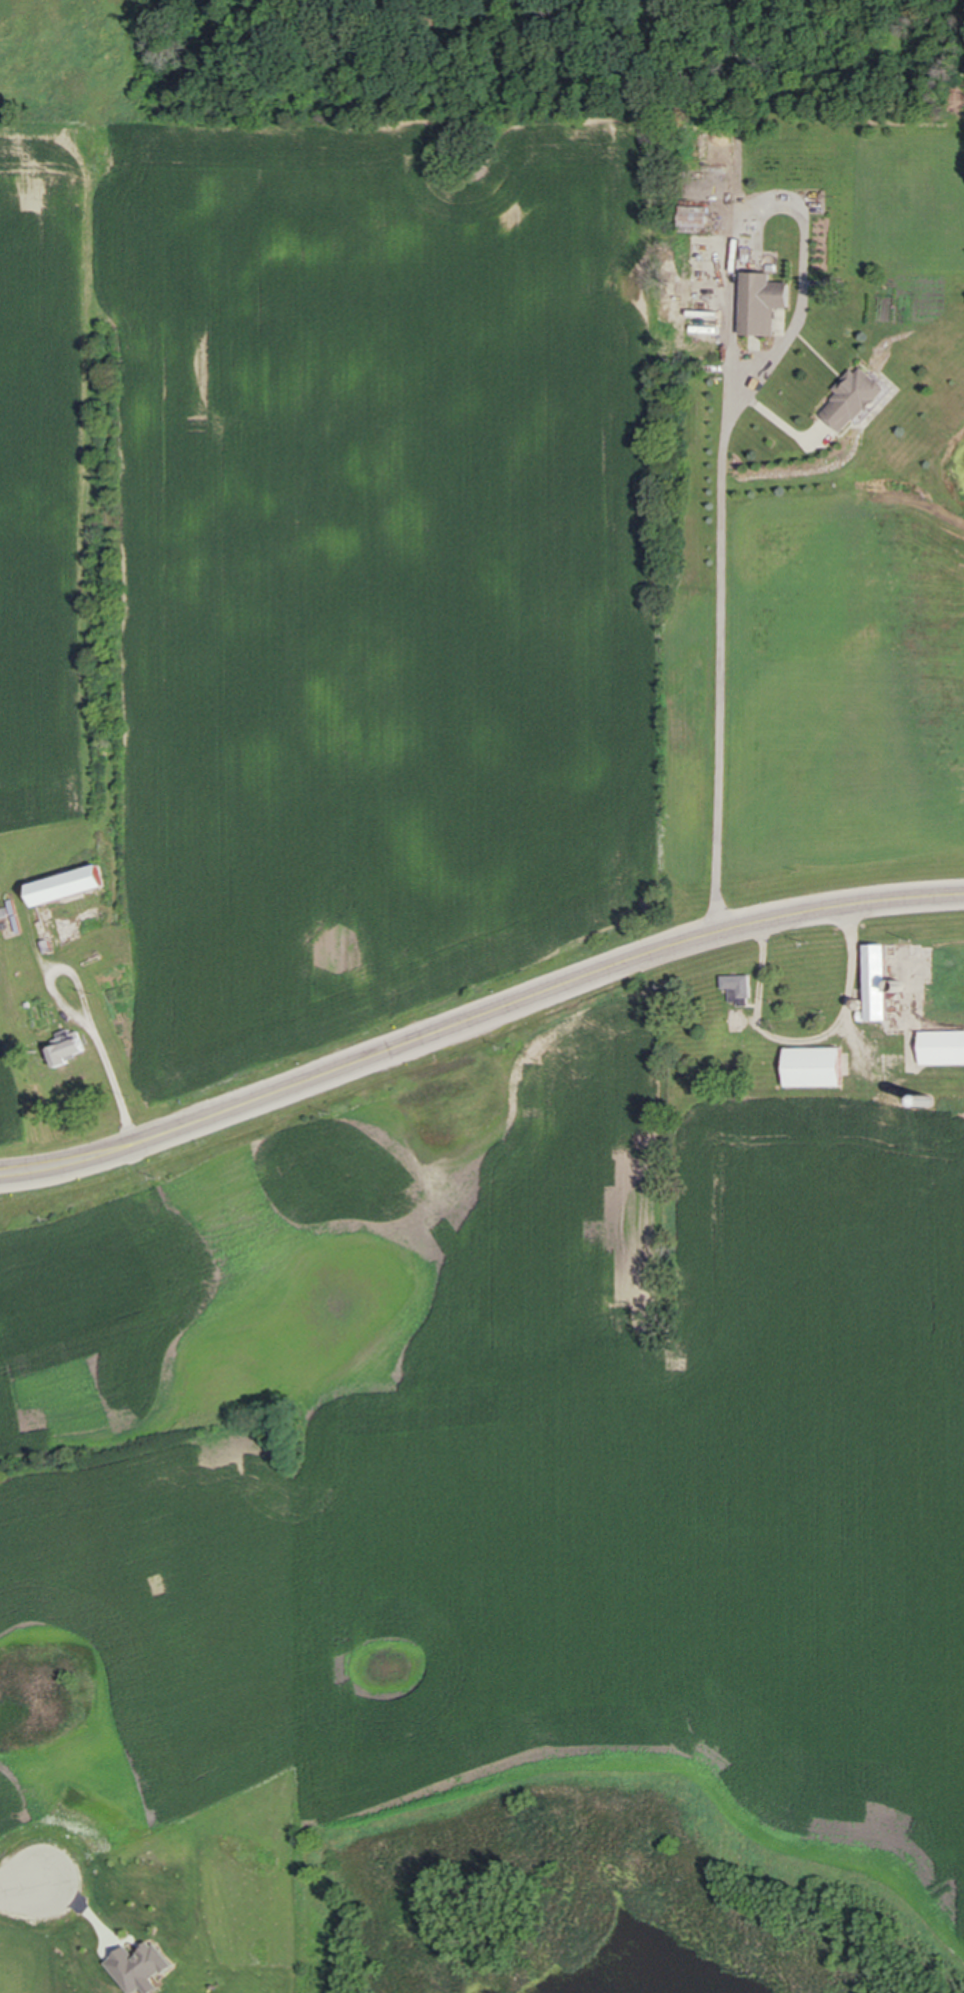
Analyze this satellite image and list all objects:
building: (764, 303)
building: (858, 399)
road: (719, 423)
road: (787, 428)
building: (75, 886)
building: (880, 984)
building: (738, 990)
road: (477, 1017)
road: (809, 1040)
building: (943, 1049)
building: (72, 1054)
road: (112, 1068)
building: (816, 1068)
building: (839, 1116)
road: (15, 1886)

